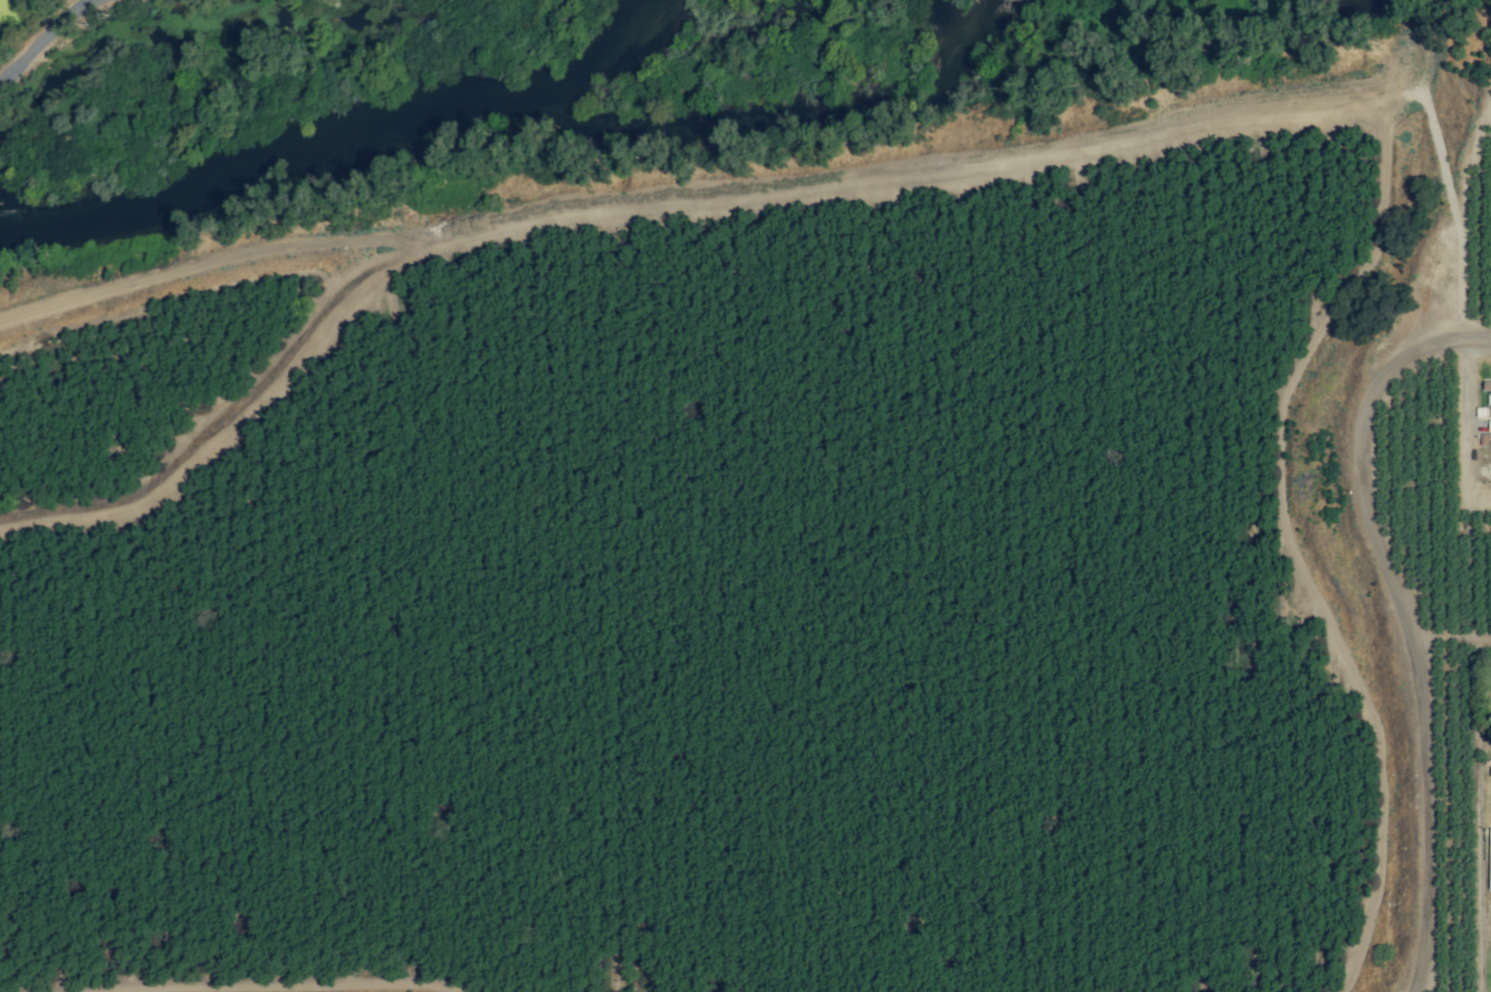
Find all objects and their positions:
river: (345, 136)
building: (1487, 386)
crop: (759, 567)
road: (1406, 619)
building: (1489, 859)

